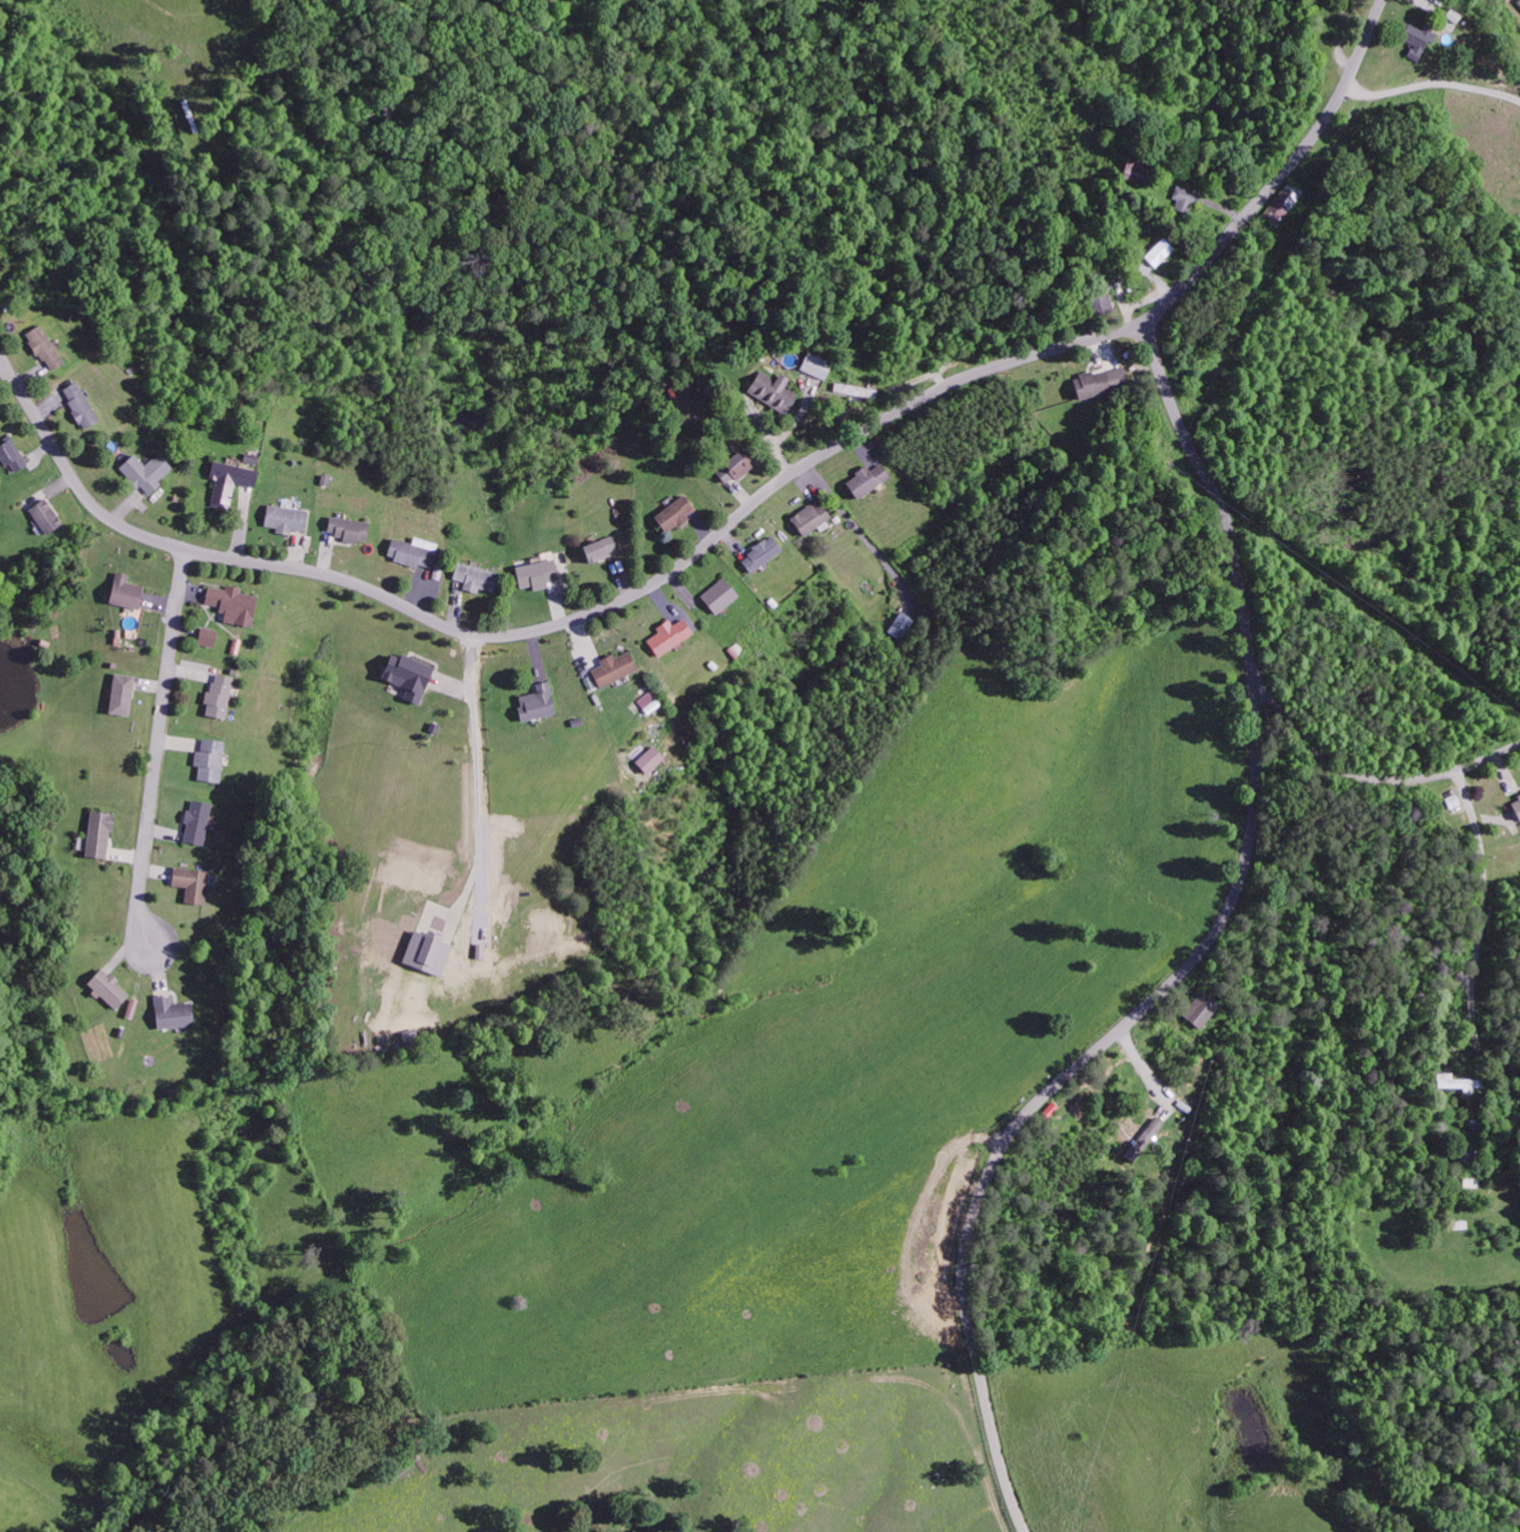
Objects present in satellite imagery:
building: (1518, 3)
building: (1414, 40)
building: (1134, 171)
building: (1184, 200)
building: (1284, 201)
building: (1158, 251)
building: (1100, 300)
building: (43, 347)
building: (814, 365)
building: (1100, 381)
building: (852, 389)
building: (771, 391)
building: (79, 404)
building: (10, 454)
building: (734, 466)
building: (144, 471)
building: (865, 480)
building: (227, 482)
building: (673, 513)
building: (43, 515)
building: (283, 518)
building: (809, 518)
road: (729, 523)
building: (347, 529)
building: (598, 548)
building: (411, 551)
building: (760, 554)
building: (537, 572)
building: (474, 577)
building: (123, 591)
building: (718, 595)
building: (231, 604)
building: (901, 626)
building: (668, 635)
building: (206, 637)
building: (612, 668)
building: (406, 675)
building: (120, 694)
building: (218, 696)
building: (535, 702)
building: (648, 702)
road: (160, 708)
building: (648, 759)
building: (209, 760)
road: (1362, 775)
building: (1453, 801)
building: (1516, 805)
building: (195, 822)
building: (97, 834)
building: (190, 883)
building: (425, 952)
road: (1197, 959)
building: (105, 988)
building: (130, 1008)
building: (1199, 1009)
building: (171, 1013)
building: (1459, 1082)
building: (1143, 1139)
building: (1470, 1182)

